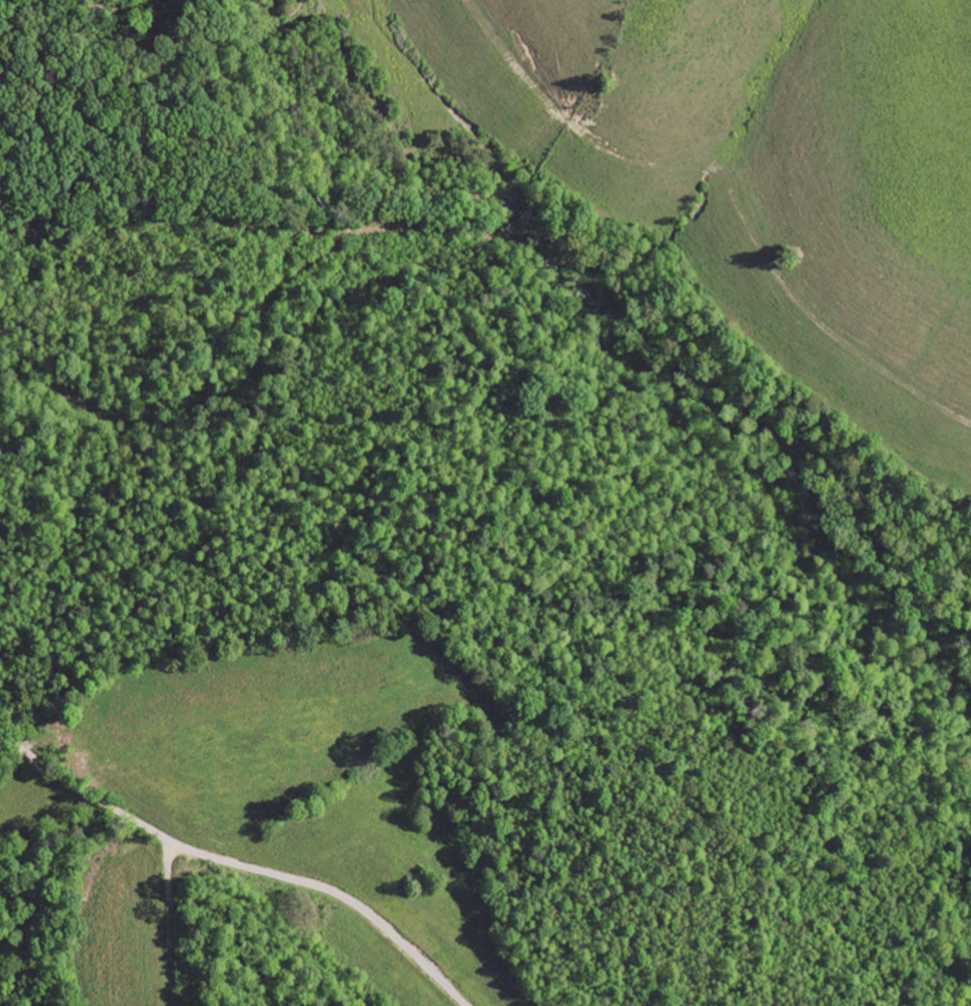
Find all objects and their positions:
road: (63, 776)
road: (314, 883)
road: (166, 921)

